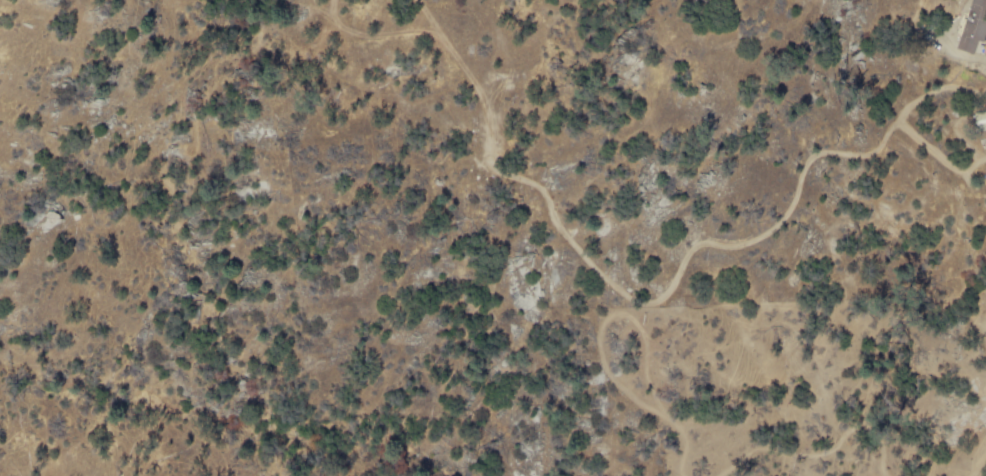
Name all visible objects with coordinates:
building: (976, 28)
building: (983, 122)

